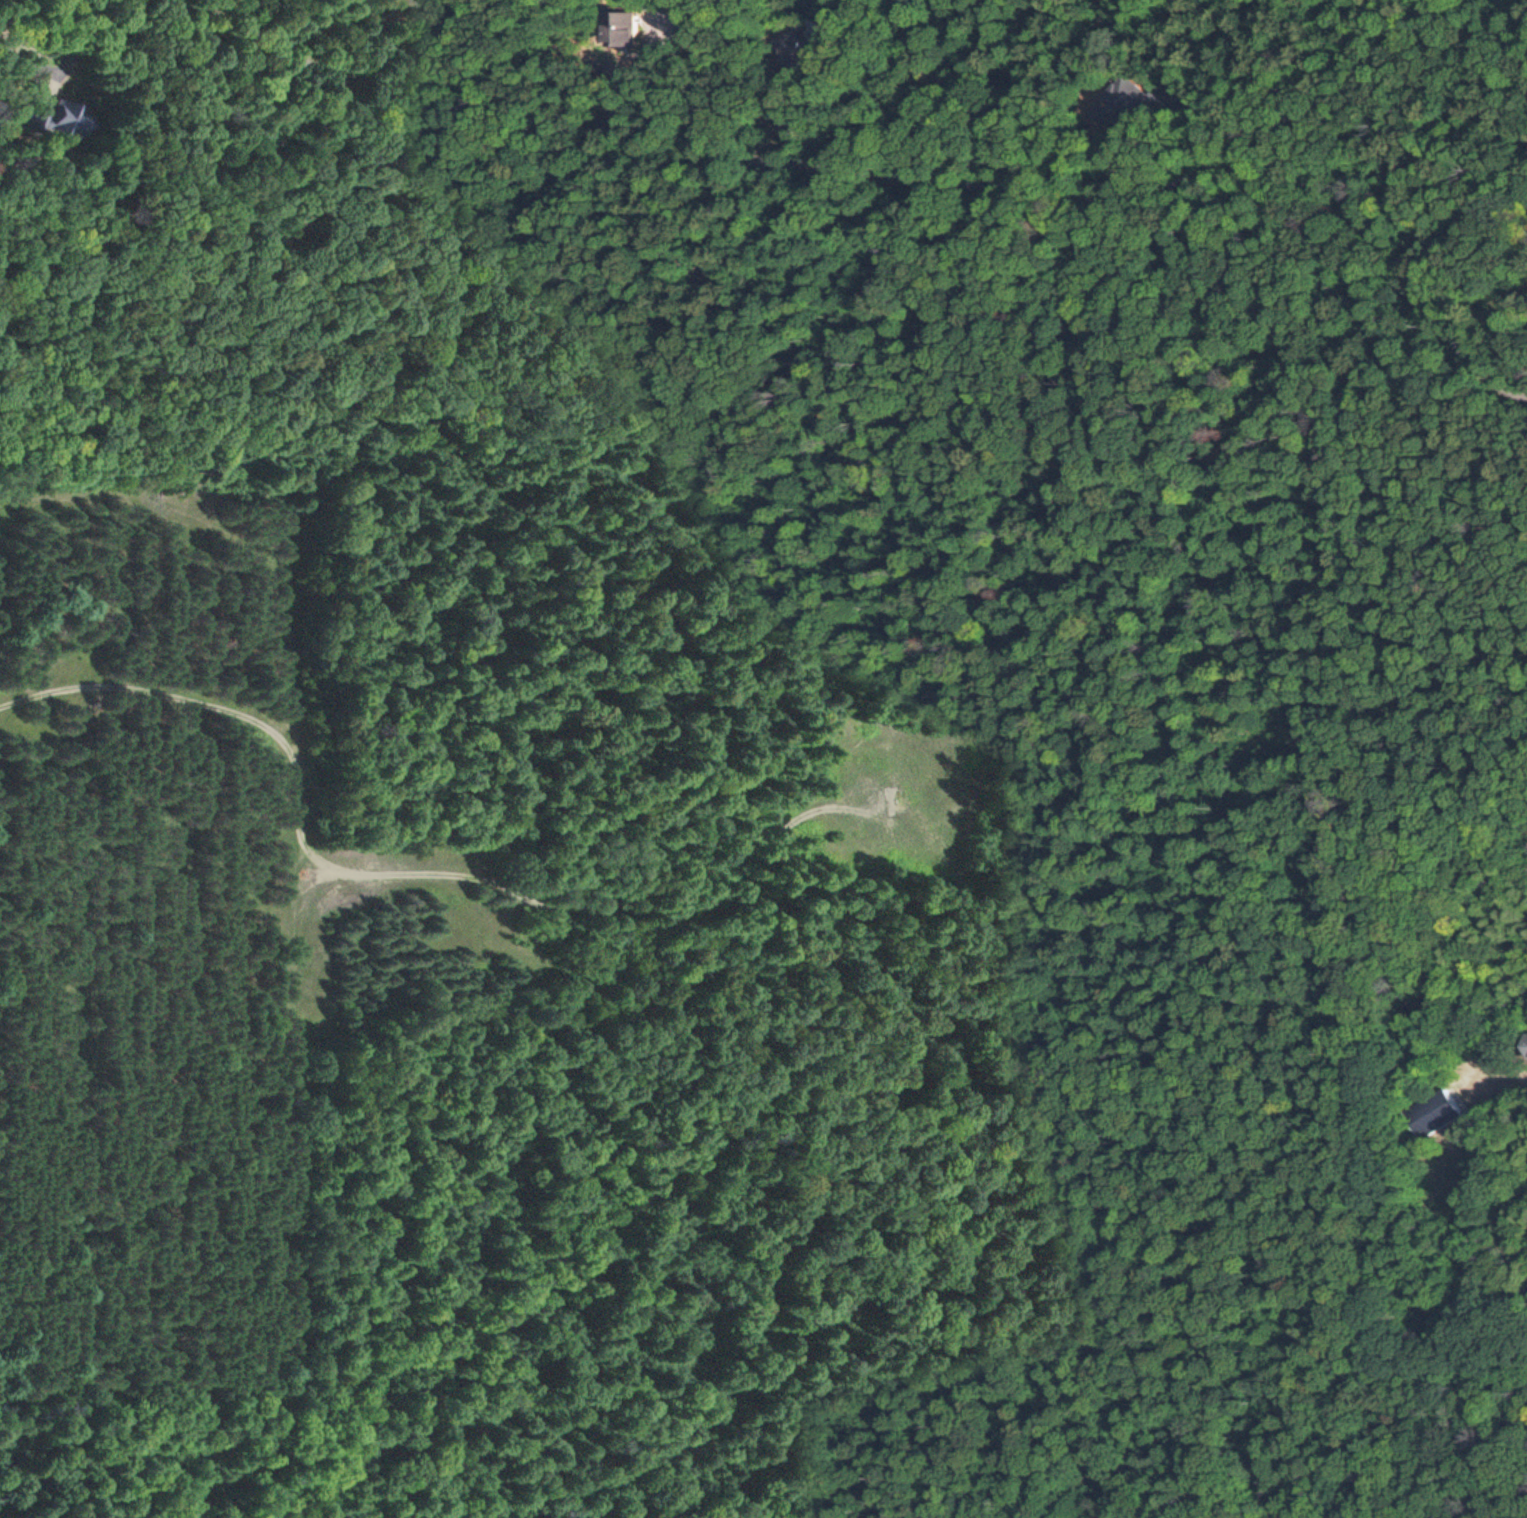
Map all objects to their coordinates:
building: (417, 9)
park: (955, 9)
building: (649, 31)
building: (823, 54)
road: (968, 99)
building: (1138, 103)
building: (23, 122)
road: (853, 168)
road: (1506, 1080)
building: (1435, 1113)

